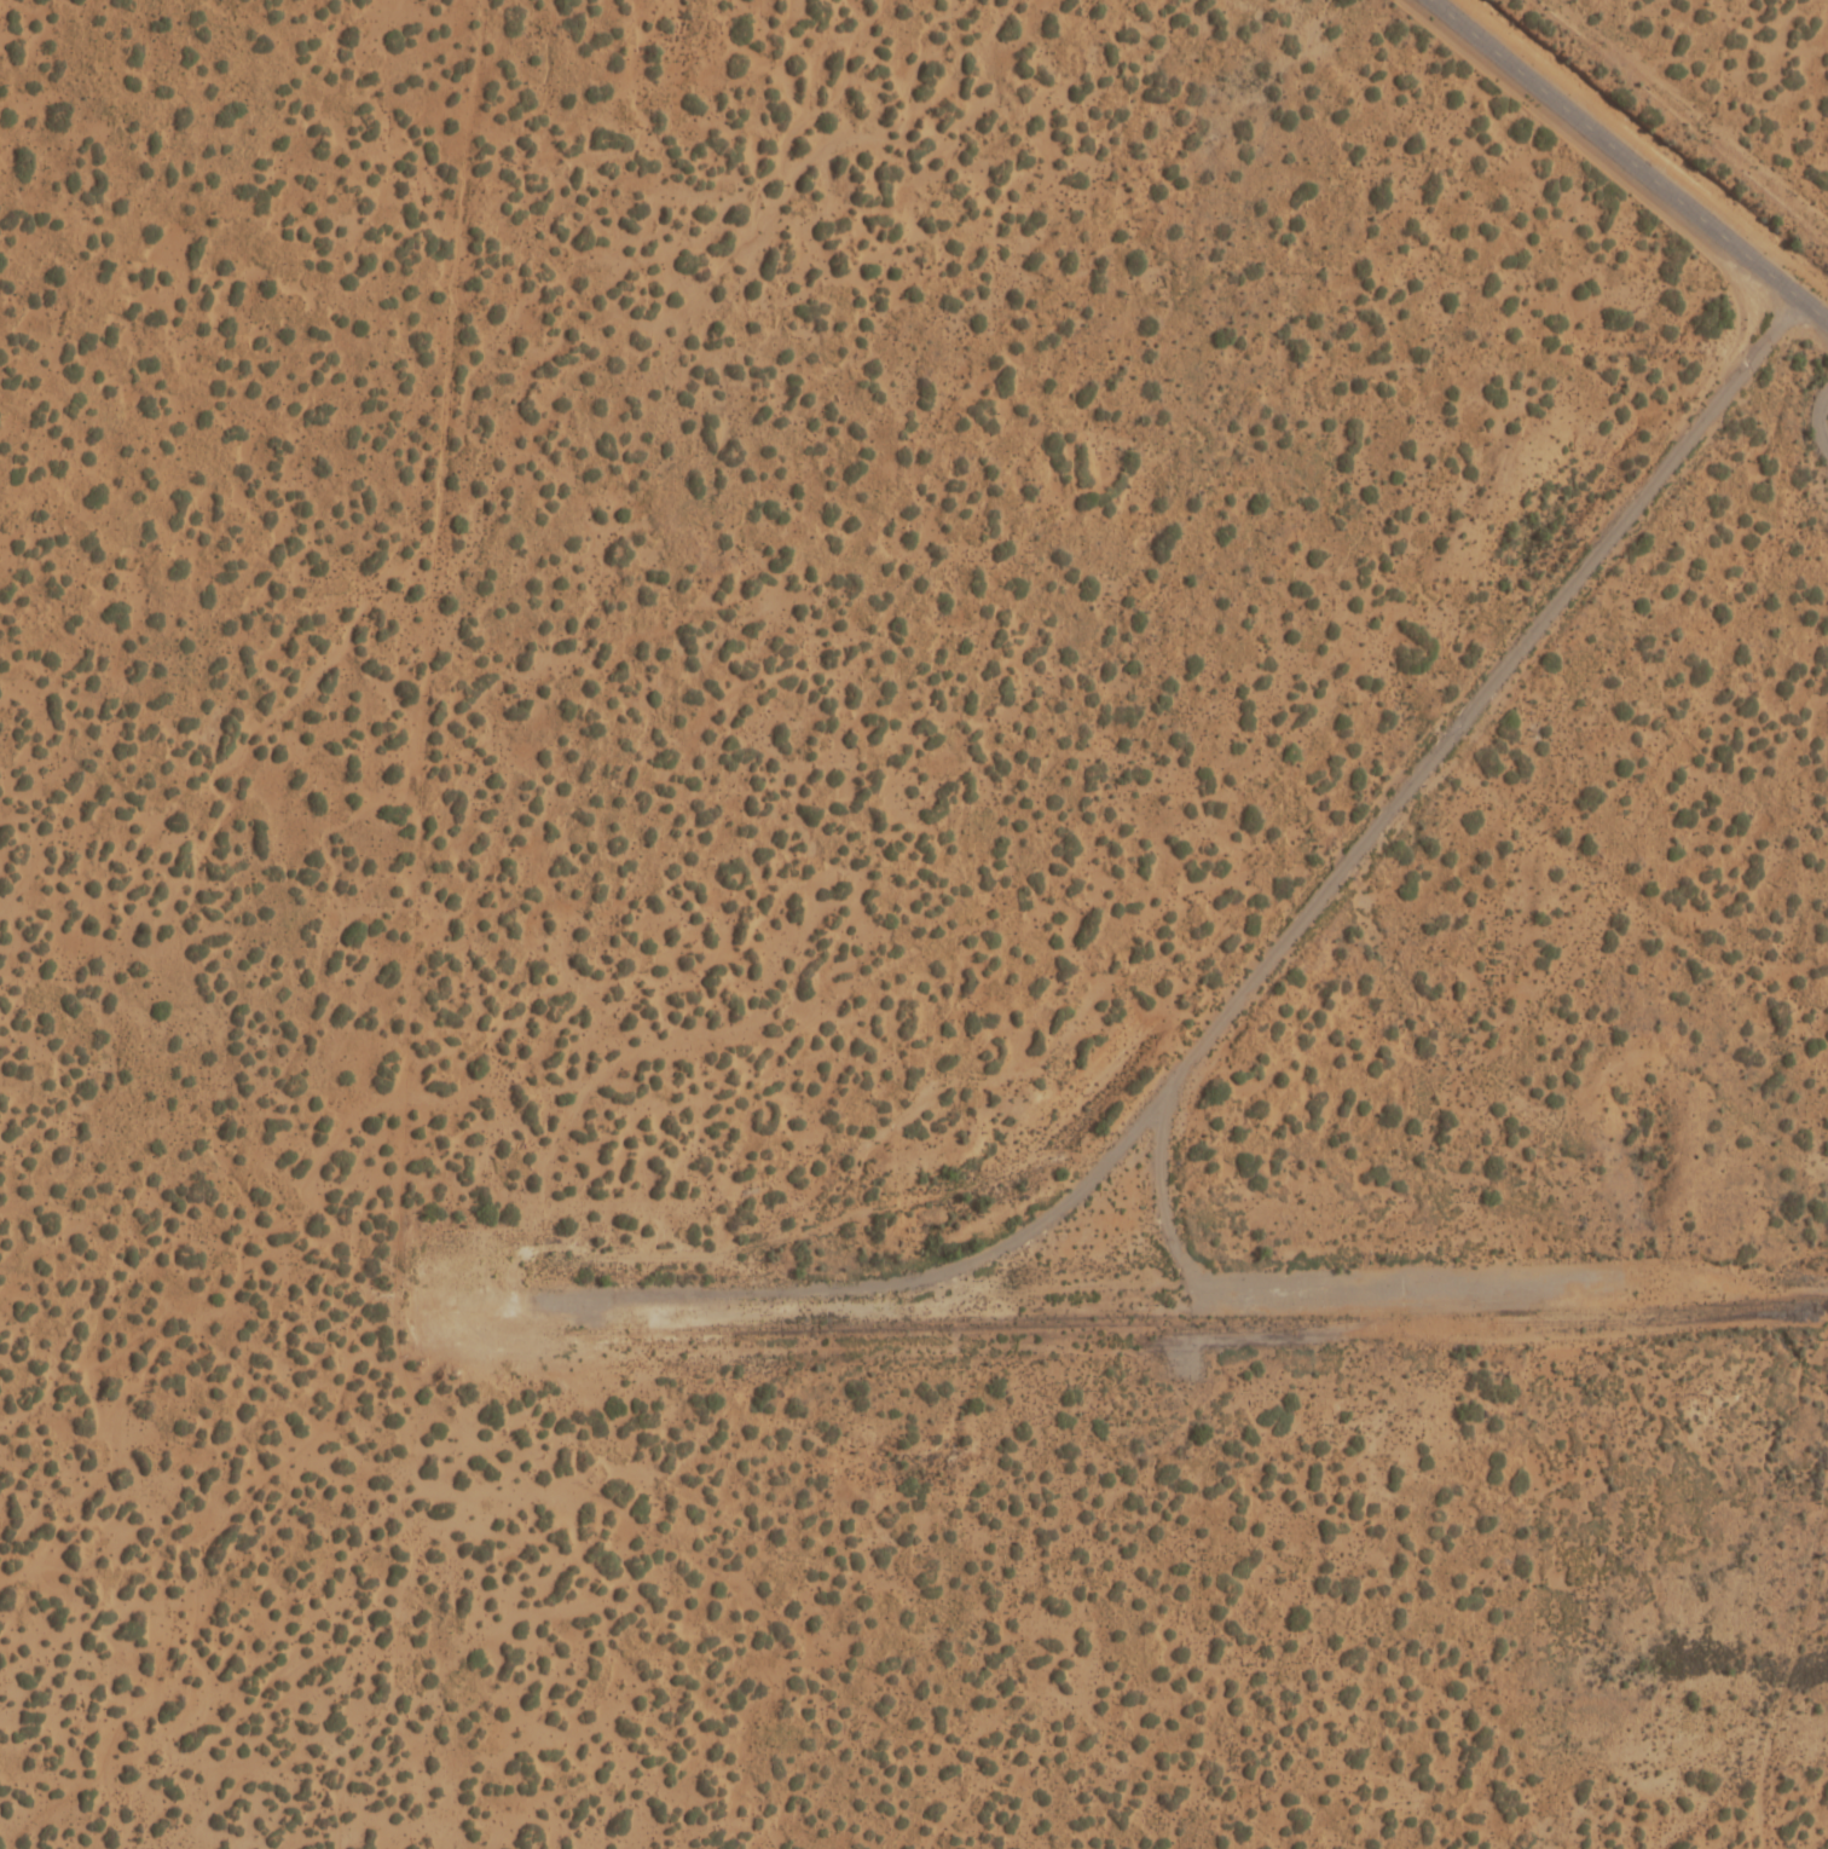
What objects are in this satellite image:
road: (1629, 161)
building: (763, 953)
road: (1268, 963)
road: (1291, 1290)
building: (1610, 1302)
railway: (1817, 1305)
building: (1469, 1328)

